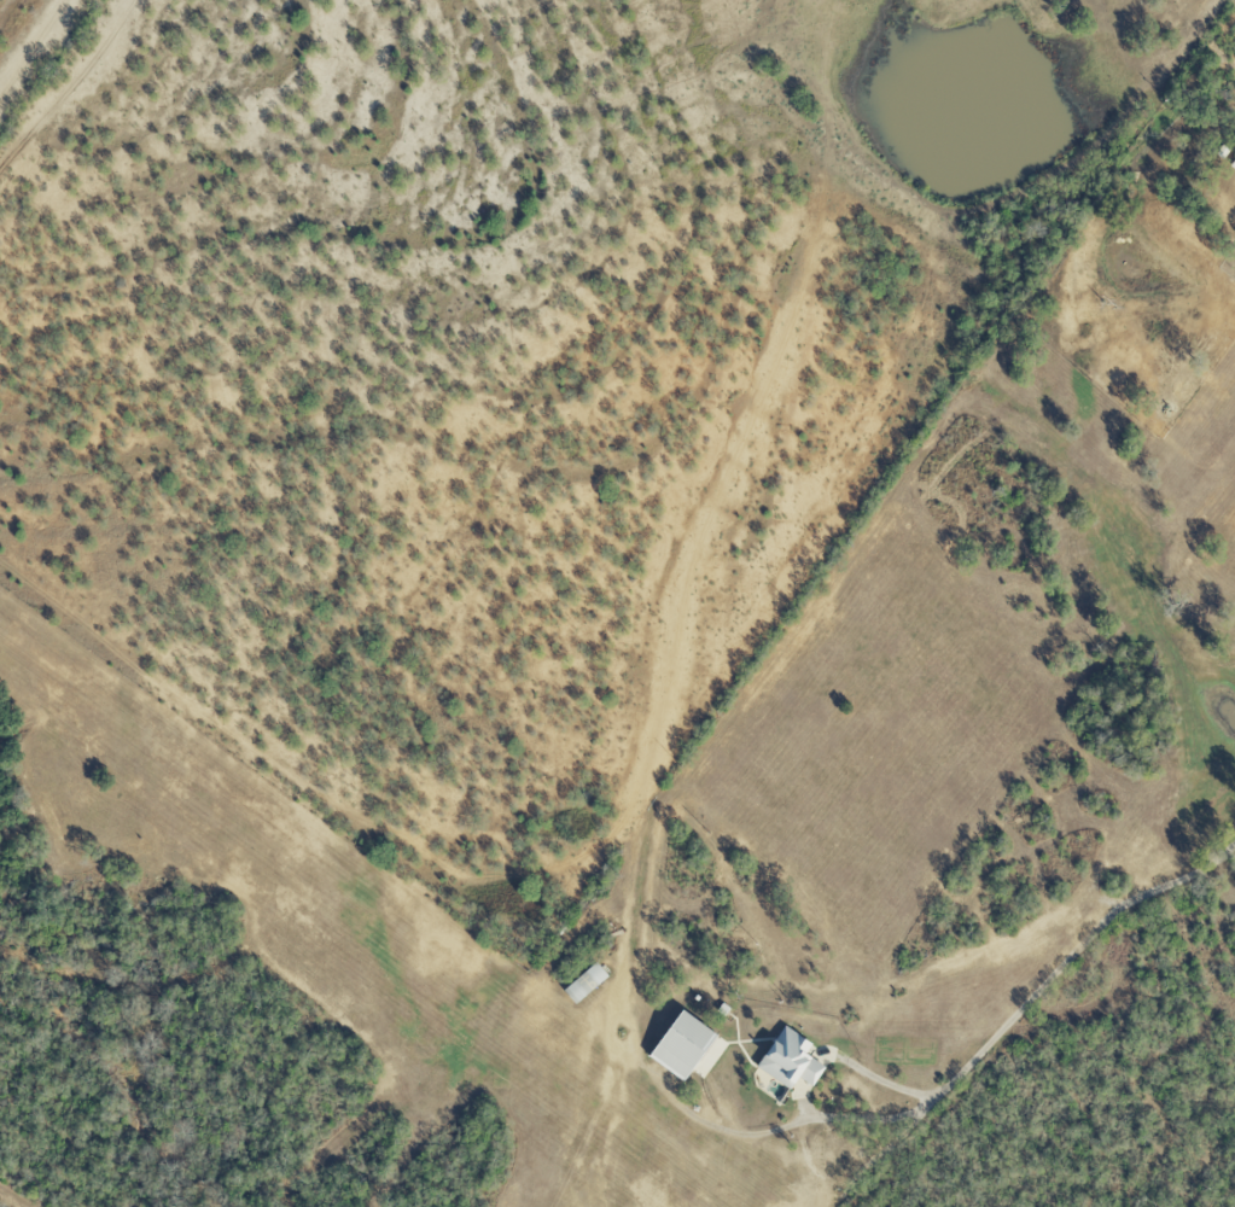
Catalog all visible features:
road: (1035, 995)
building: (685, 1046)
building: (792, 1060)
building: (707, 1063)
road: (791, 1127)

